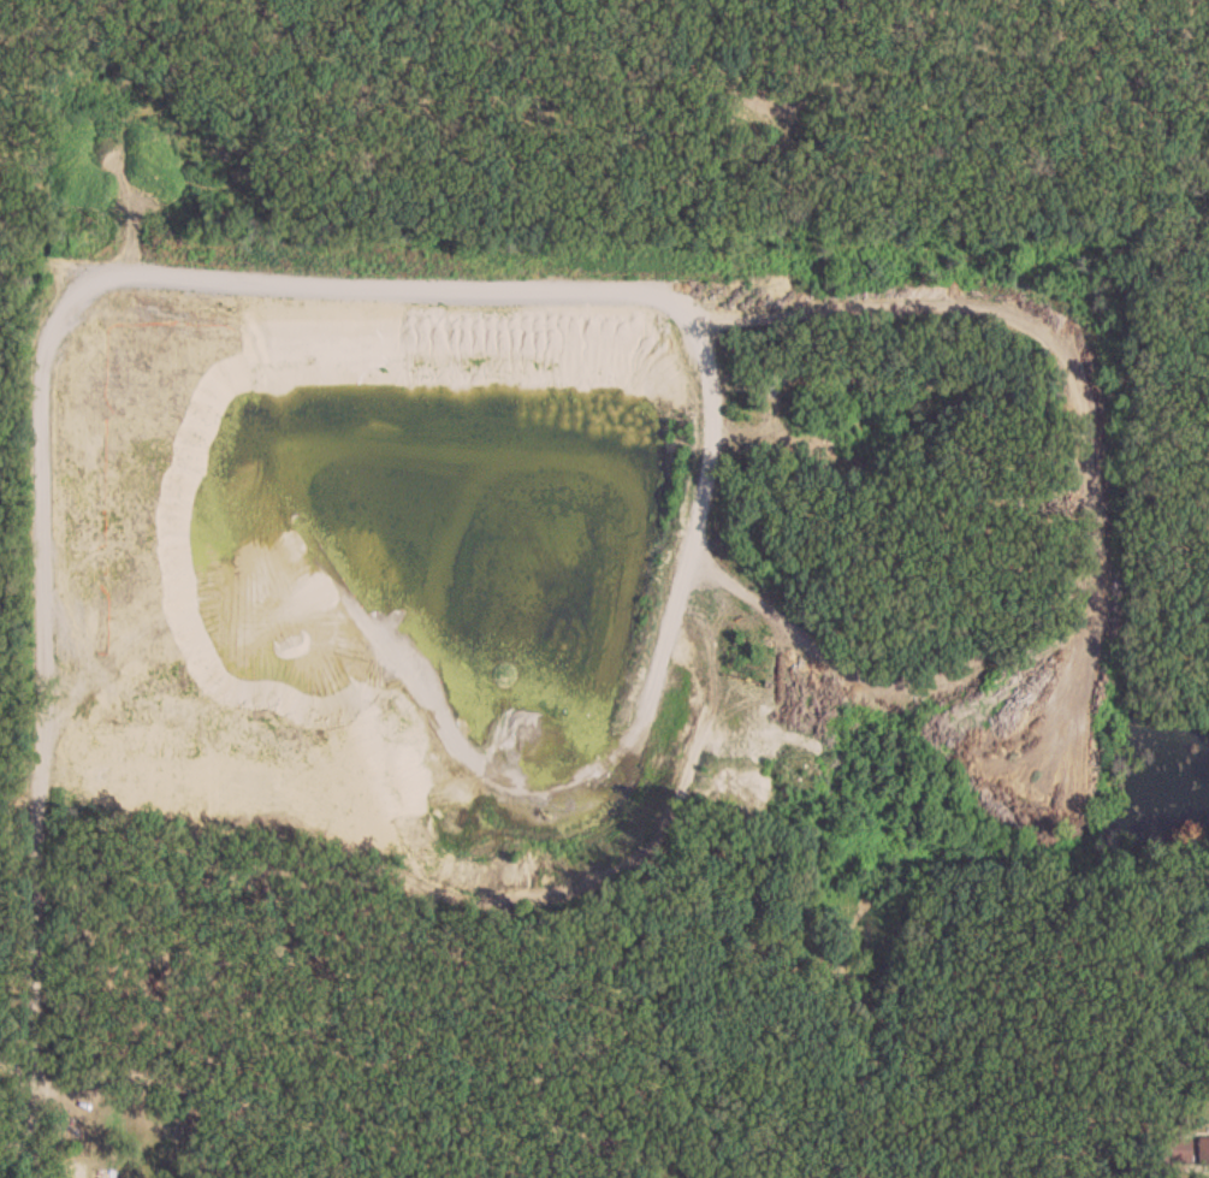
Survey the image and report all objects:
road: (43, 724)
building: (1202, 1152)

